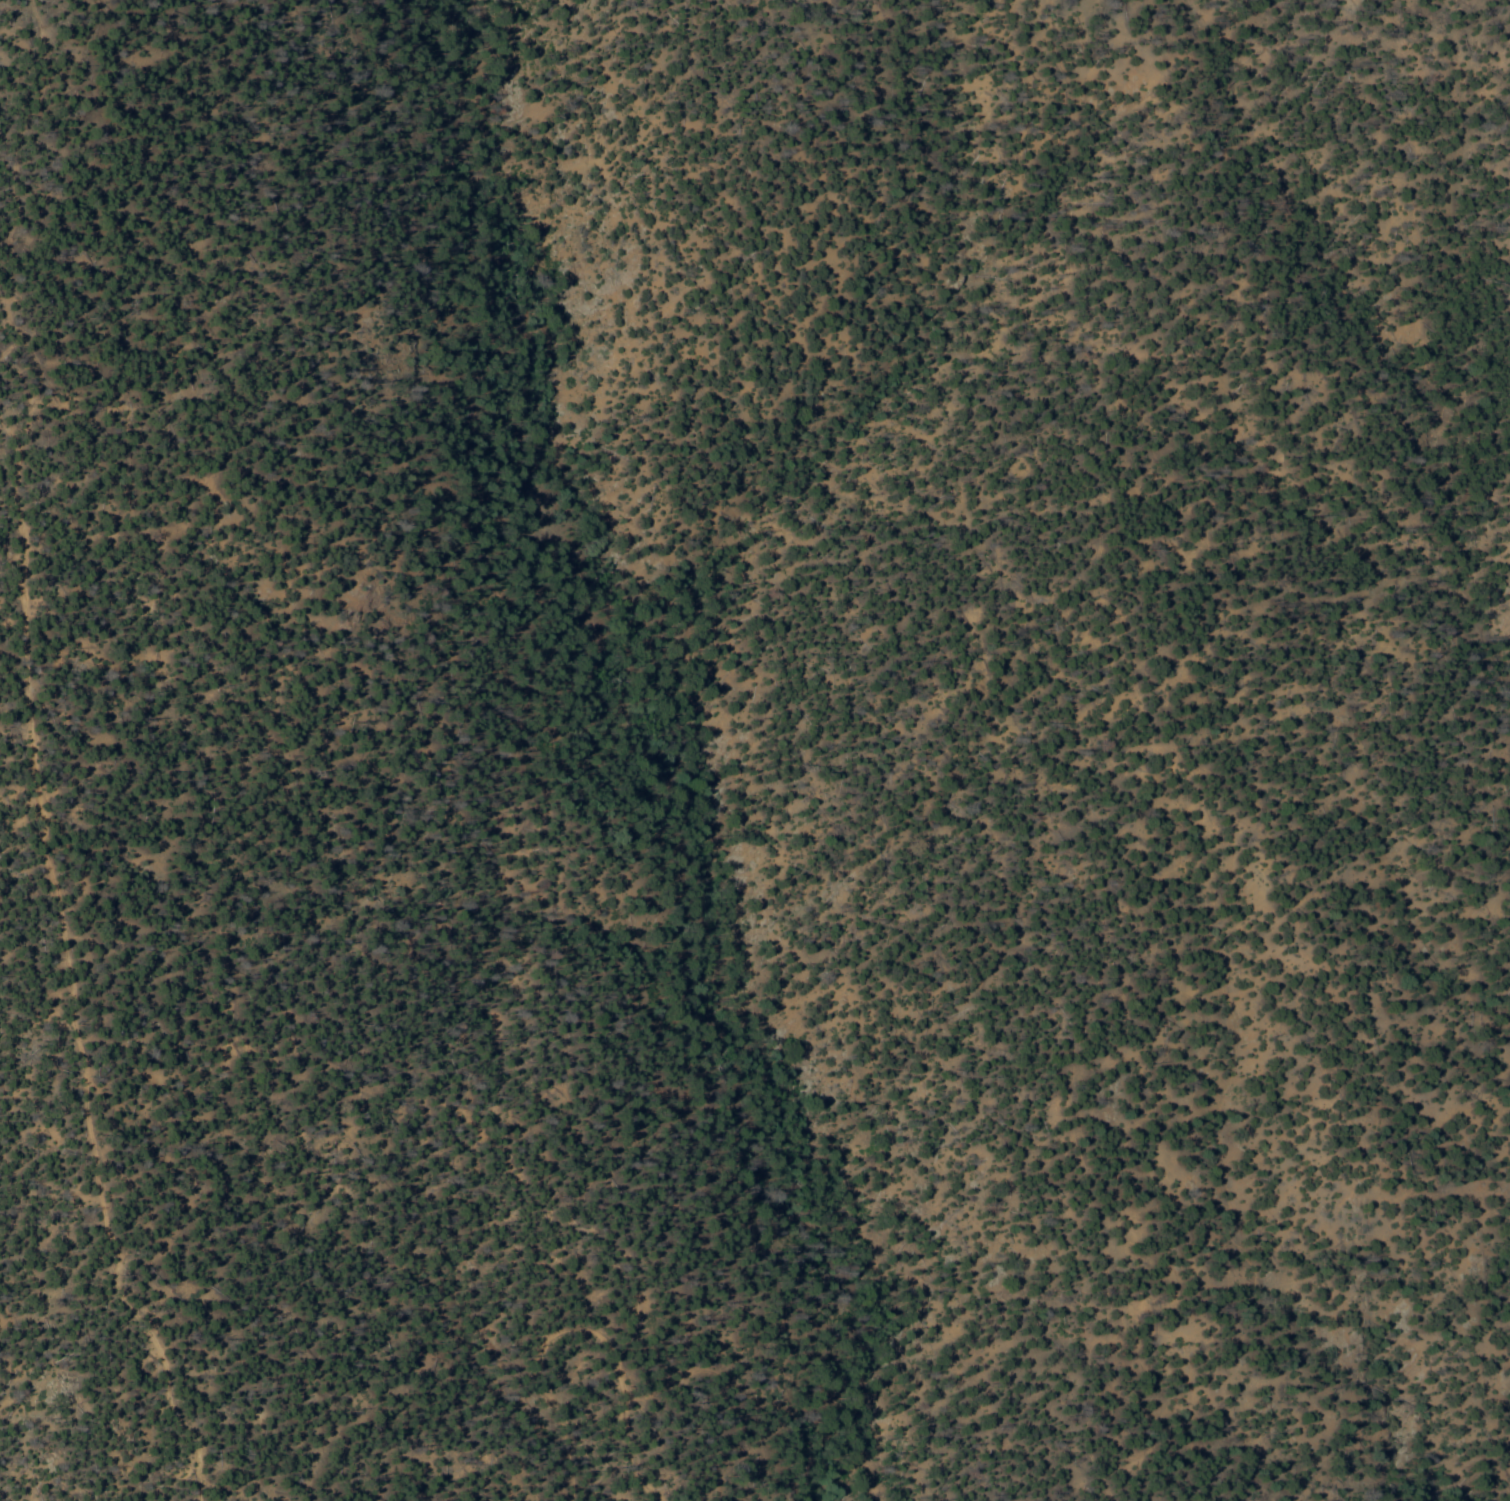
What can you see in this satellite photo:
road: (5, 141)
road: (53, 932)

